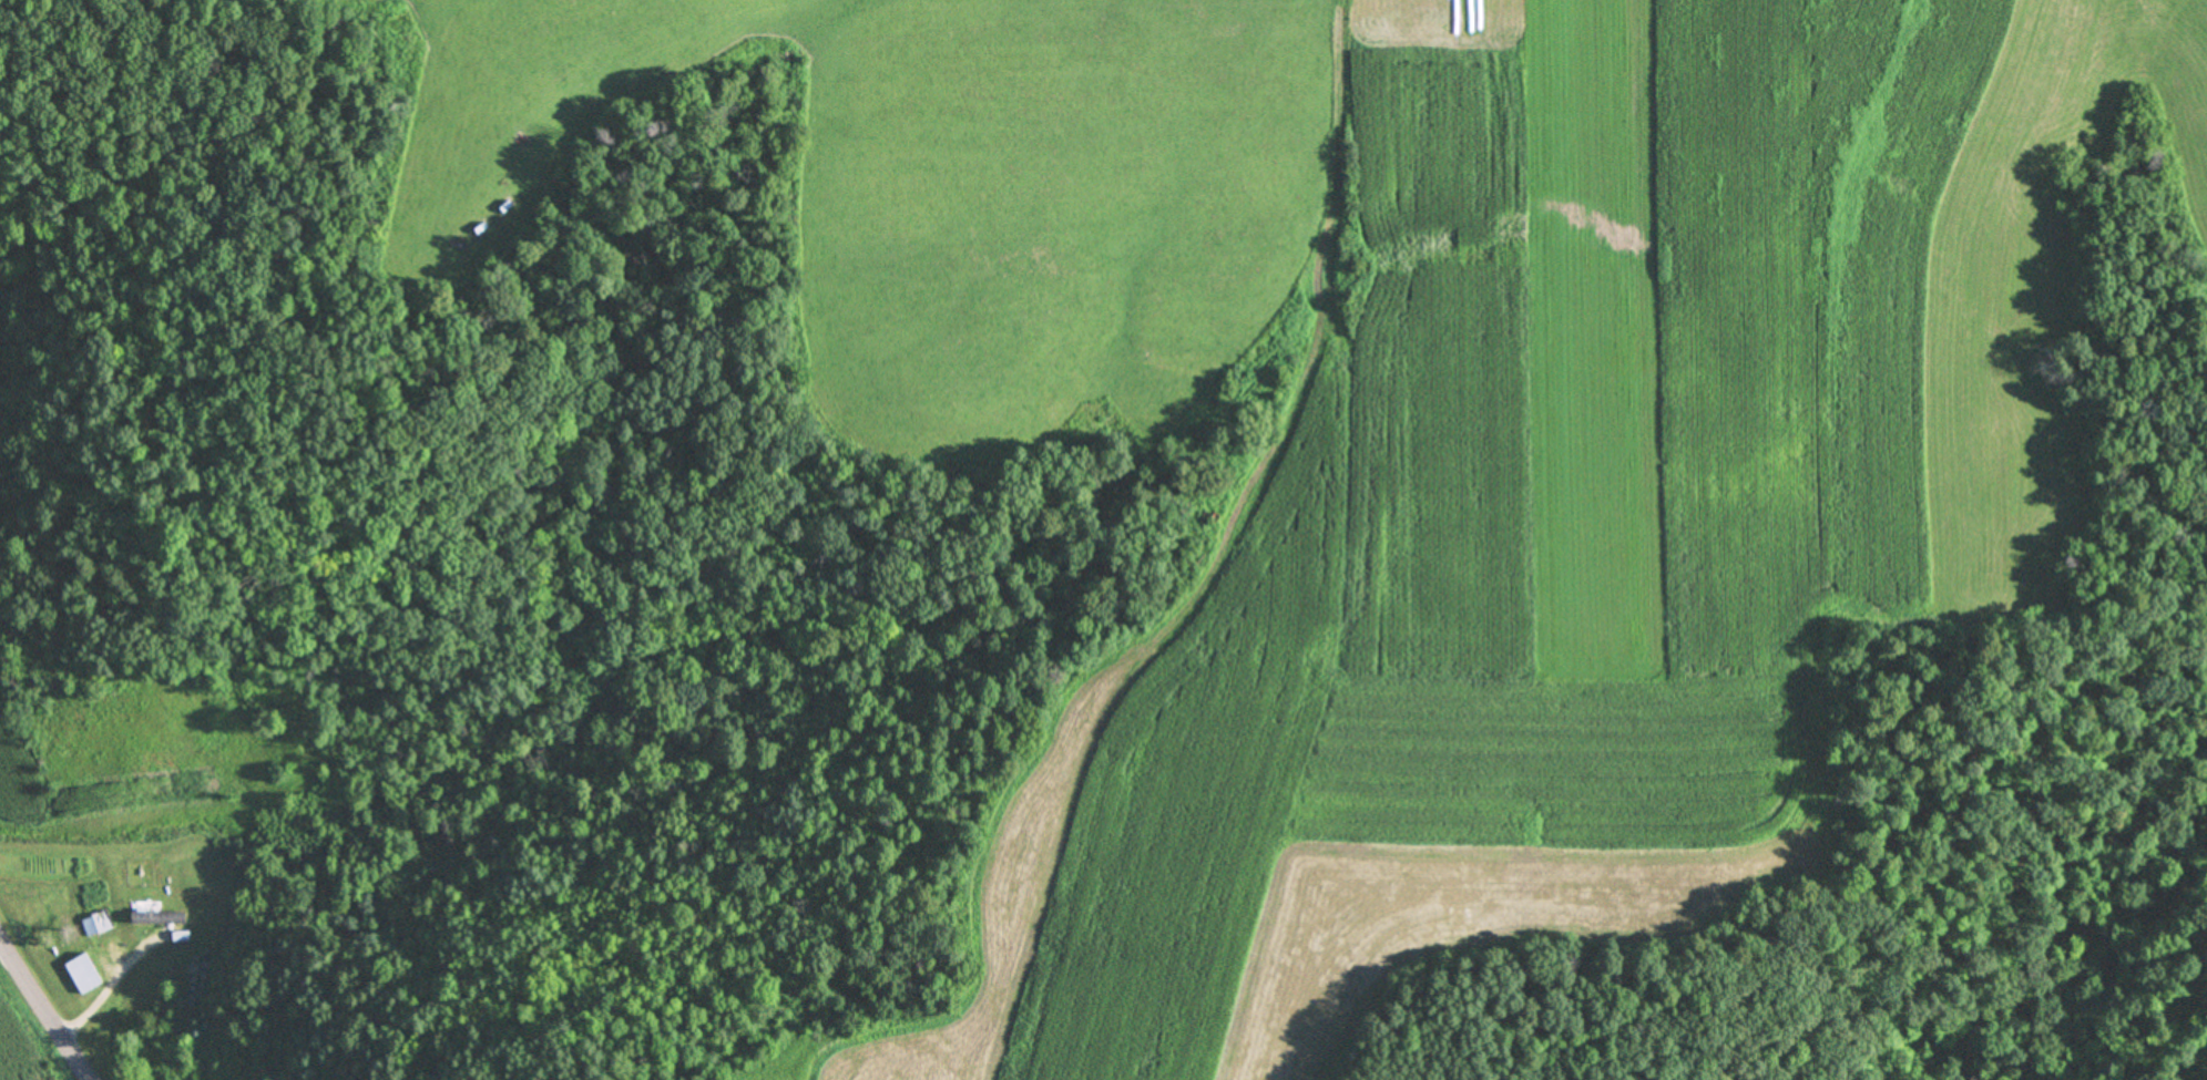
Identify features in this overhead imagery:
building: (181, 868)
building: (152, 917)
building: (94, 922)
building: (78, 973)
road: (43, 1010)

